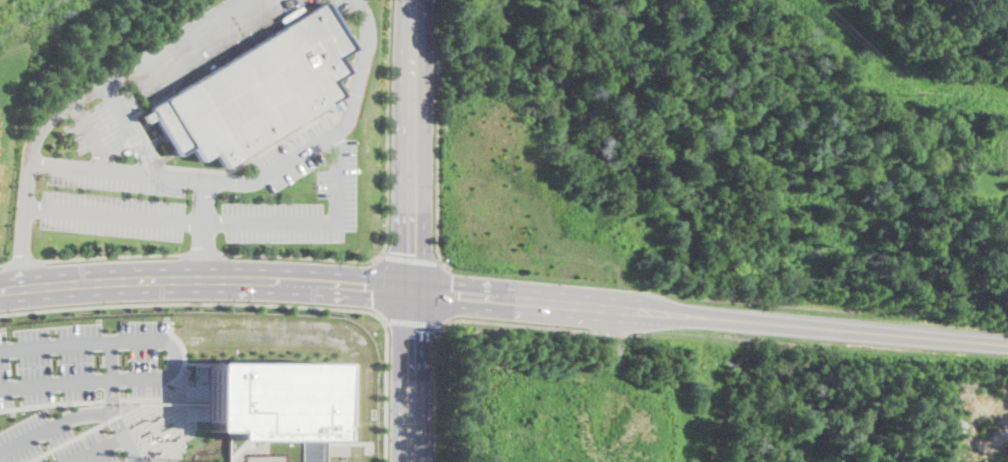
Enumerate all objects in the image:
parking lot: (347, 4)
road: (357, 71)
road: (122, 73)
building: (258, 91)
park: (792, 99)
road: (389, 128)
road: (130, 129)
road: (94, 136)
road: (438, 136)
road: (410, 139)
parking lot: (114, 152)
parking lot: (296, 153)
road: (204, 201)
parking lot: (300, 208)
road: (53, 210)
parking lot: (111, 214)
traffic signals: (408, 252)
road: (23, 253)
road: (204, 253)
road: (113, 255)
road: (206, 256)
road: (303, 257)
road: (411, 259)
road: (23, 262)
road: (3, 266)
road: (203, 268)
traffic signals: (453, 283)
road: (378, 286)
road: (203, 289)
road: (407, 290)
road: (562, 293)
road: (447, 295)
traffic signals: (371, 298)
road: (194, 304)
road: (561, 315)
road: (413, 323)
road: (518, 323)
traffic signals: (407, 329)
road: (861, 331)
road: (174, 358)
parking lot: (86, 361)
road: (407, 382)
road: (387, 391)
building: (273, 402)
road: (111, 403)
road: (51, 406)
road: (53, 424)
parking lot: (52, 443)
road: (68, 443)
road: (95, 448)

